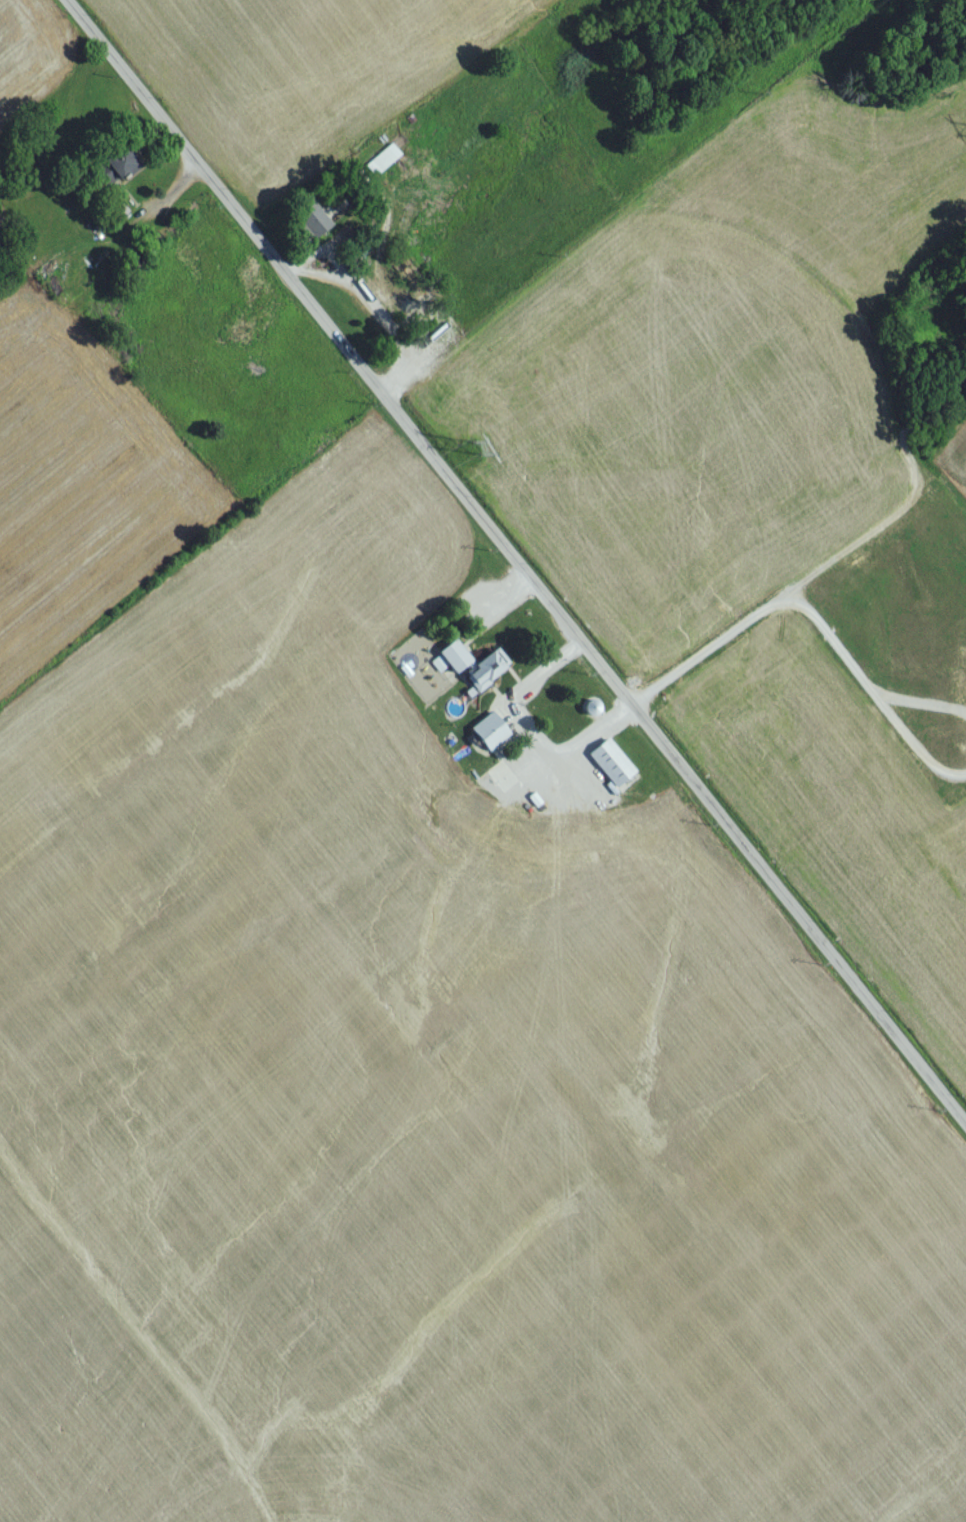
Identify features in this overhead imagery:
building: (380, 165)
building: (107, 173)
building: (309, 224)
power tower: (474, 454)
road: (516, 560)
road: (503, 590)
road: (816, 619)
building: (470, 669)
road: (529, 736)
building: (607, 768)

